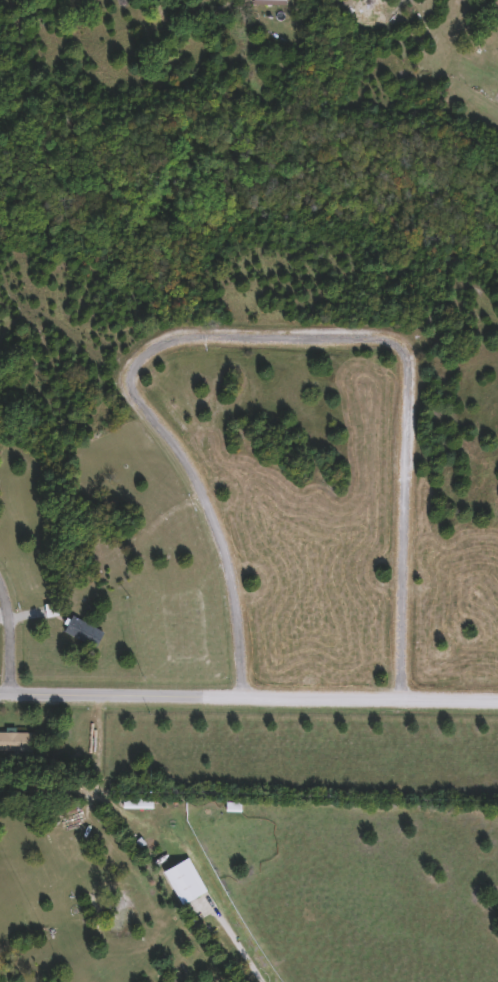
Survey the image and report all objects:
building: (382, 0)
building: (265, 2)
road: (263, 340)
road: (18, 629)
building: (80, 632)
road: (248, 698)
building: (15, 741)
building: (134, 803)
building: (181, 880)

